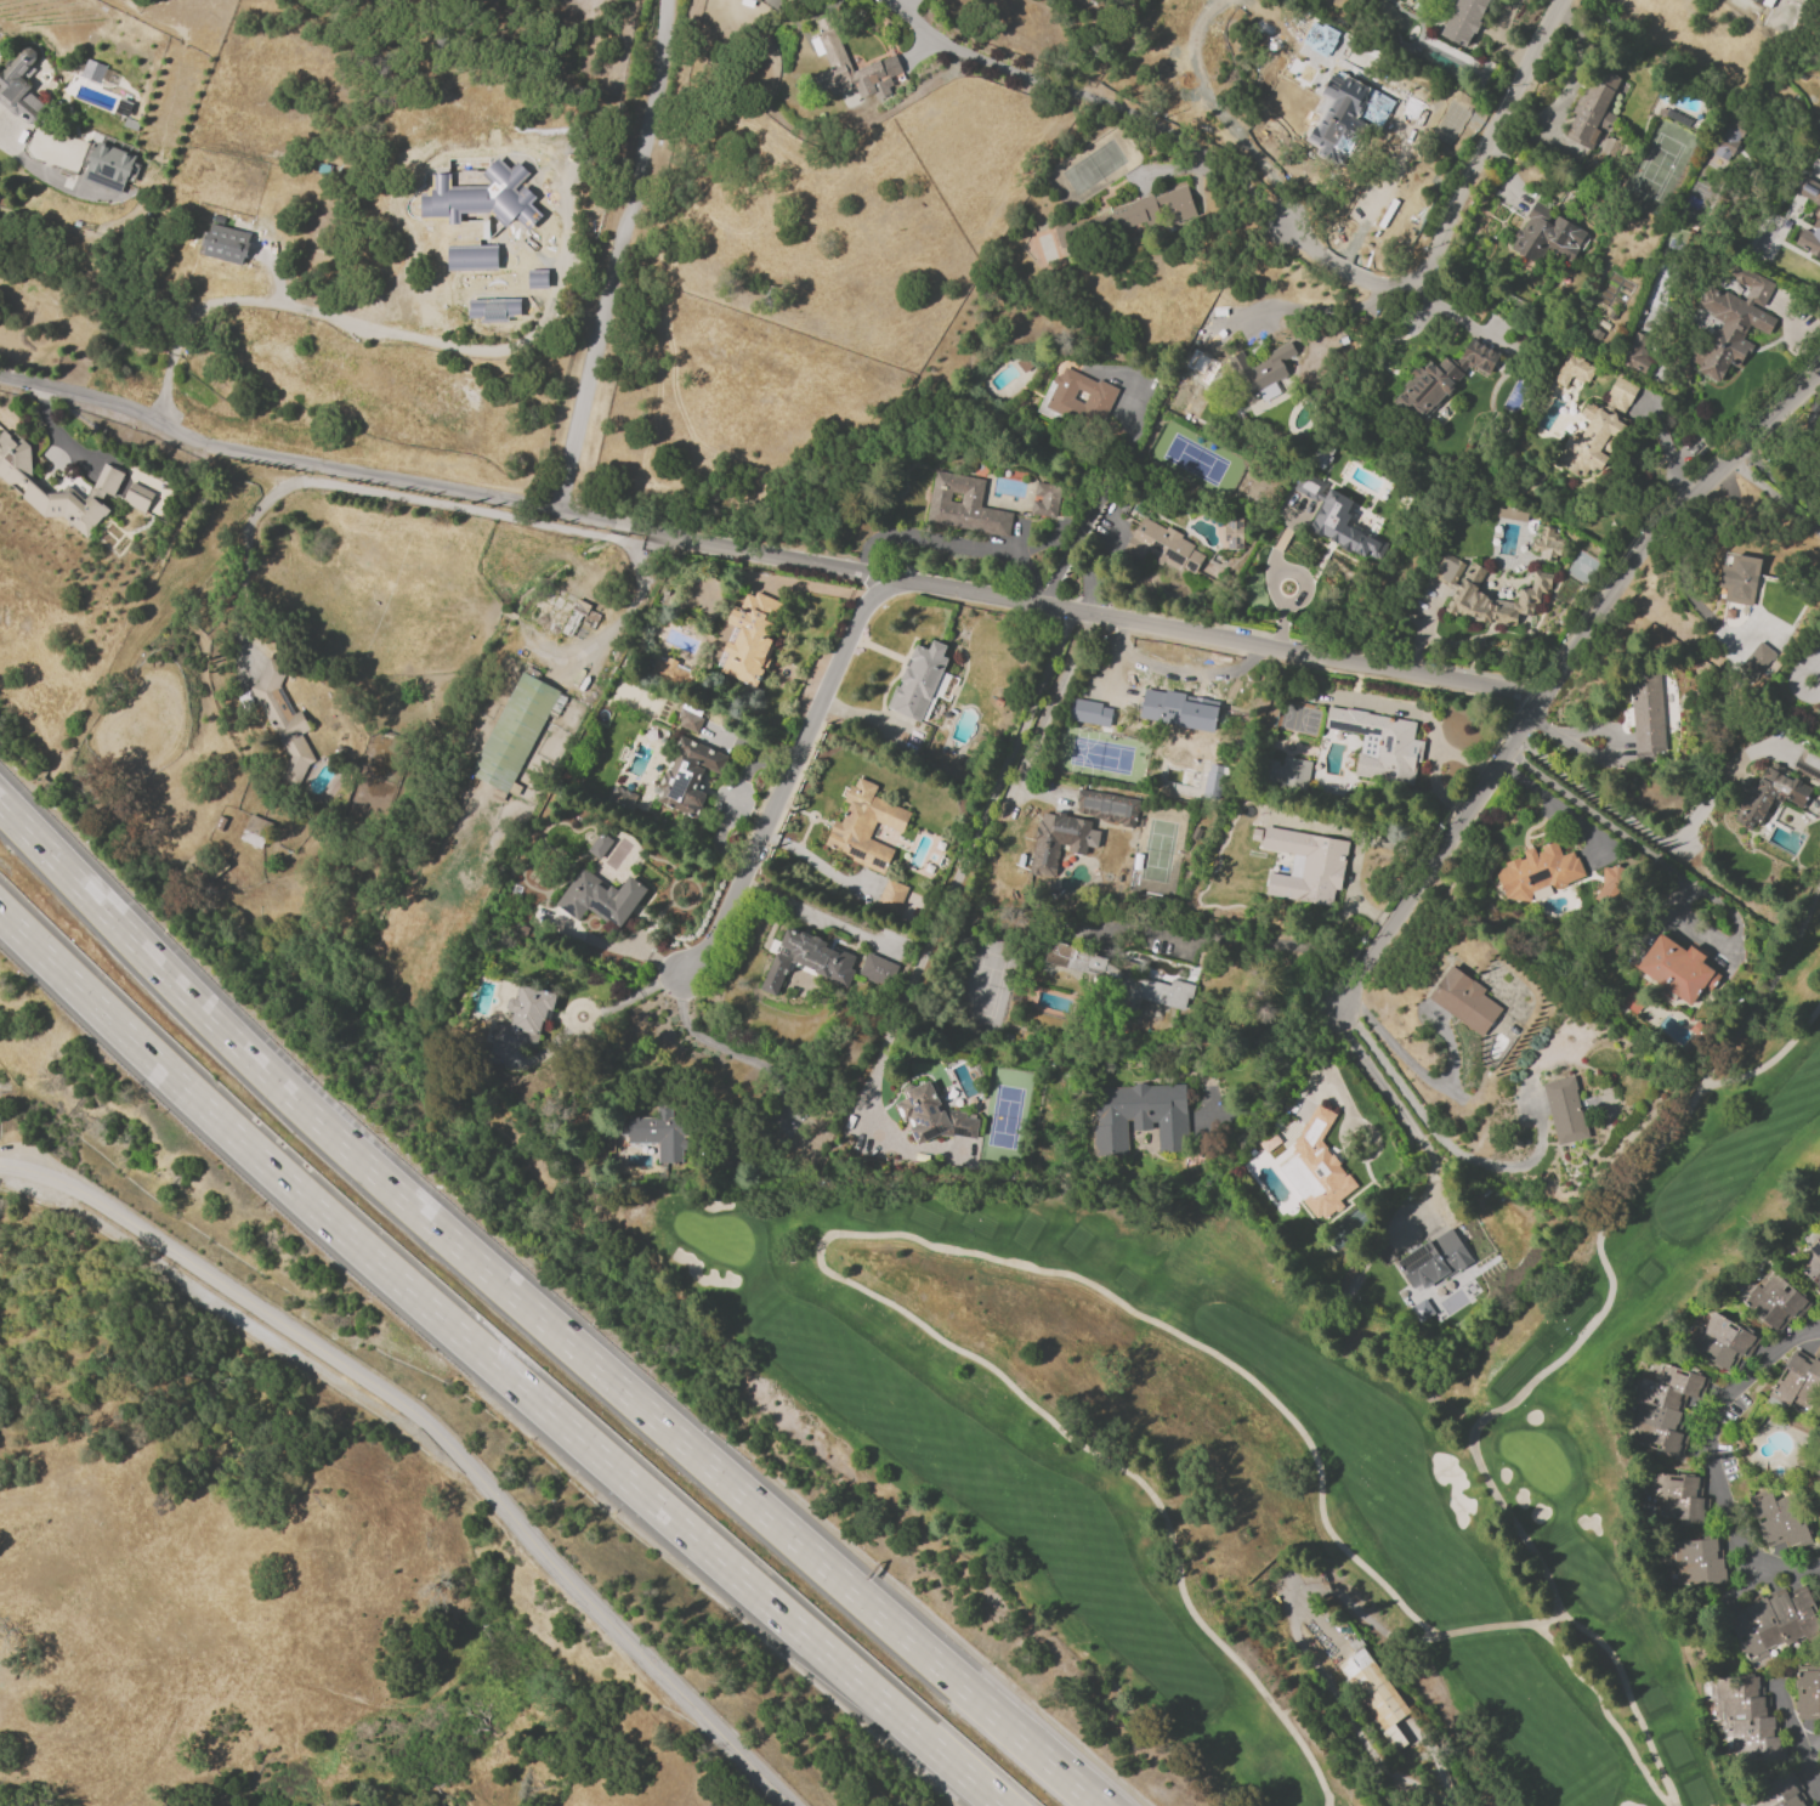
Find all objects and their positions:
building: (756, 0)
building: (1464, 21)
building: (1319, 38)
building: (851, 67)
building: (93, 72)
building: (1310, 85)
building: (19, 89)
road: (1088, 102)
building: (124, 108)
road: (1408, 112)
building: (1345, 114)
building: (1594, 114)
building: (132, 124)
road: (1486, 141)
building: (1727, 141)
building: (567, 152)
road: (22, 157)
building: (108, 166)
building: (1808, 191)
building: (477, 215)
building: (1126, 215)
building: (1813, 223)
building: (1786, 228)
building: (1548, 237)
building: (226, 243)
road: (614, 256)
road: (1339, 266)
road: (274, 273)
road: (1317, 307)
building: (494, 310)
road: (1456, 312)
building: (1733, 323)
road: (432, 342)
building: (1635, 352)
building: (1260, 369)
building: (1574, 369)
building: (1444, 377)
road: (164, 390)
building: (1058, 396)
building: (1598, 431)
road: (1109, 481)
road: (399, 482)
road: (1779, 482)
building: (107, 483)
road: (390, 492)
road: (1773, 496)
building: (1047, 499)
building: (136, 500)
building: (964, 505)
road: (1293, 515)
building: (1337, 520)
building: (1232, 533)
road: (1280, 539)
road: (954, 543)
building: (1547, 543)
building: (1164, 547)
building: (1446, 567)
building: (1740, 579)
road: (1277, 600)
building: (1496, 600)
building: (552, 613)
building: (576, 617)
road: (1173, 633)
building: (750, 639)
building: (535, 640)
building: (517, 641)
building: (1757, 659)
road: (1814, 669)
road: (1558, 670)
building: (669, 672)
building: (580, 678)
building: (919, 681)
building: (566, 684)
building: (1178, 713)
building: (1648, 713)
building: (690, 720)
building: (284, 721)
building: (515, 735)
building: (1380, 745)
building: (1288, 774)
building: (688, 776)
road: (782, 780)
building: (1768, 797)
building: (619, 799)
road: (1558, 805)
building: (1107, 806)
building: (220, 822)
building: (866, 826)
building: (256, 832)
building: (1255, 834)
building: (1061, 838)
road: (1655, 838)
building: (599, 845)
building: (1308, 866)
building: (1537, 872)
road: (952, 881)
building: (1611, 885)
building: (891, 896)
building: (601, 898)
road: (800, 908)
building: (1098, 916)
building: (522, 929)
road: (1249, 939)
building: (807, 961)
building: (1098, 963)
building: (1678, 969)
building: (877, 970)
building: (1155, 991)
road: (634, 992)
building: (1633, 998)
building: (1465, 1001)
building: (531, 1008)
road: (1261, 1017)
road: (578, 1027)
road: (726, 1049)
road: (1412, 1066)
road: (1333, 1074)
road: (1391, 1096)
building: (1565, 1110)
building: (934, 1117)
building: (1140, 1117)
building: (1321, 1120)
building: (659, 1134)
road: (1438, 1138)
building: (1261, 1144)
building: (1321, 1179)
building: (1819, 1233)
road: (827, 1240)
building: (1434, 1259)
building: (1812, 1262)
building: (1774, 1301)
road: (539, 1315)
building: (1722, 1342)
road: (486, 1355)
building: (1796, 1383)
road: (1527, 1391)
building: (1665, 1406)
road: (437, 1432)
park: (1259, 1456)
road: (1708, 1459)
building: (1677, 1498)
building: (1780, 1519)
building: (1696, 1562)
road: (1736, 1587)
road: (1312, 1591)
building: (1774, 1626)
building: (1376, 1694)
building: (1808, 1695)
road: (1608, 1714)
building: (1748, 1717)
road: (1805, 1770)
building: (1780, 1793)
road: (990, 1799)
road: (991, 1799)

